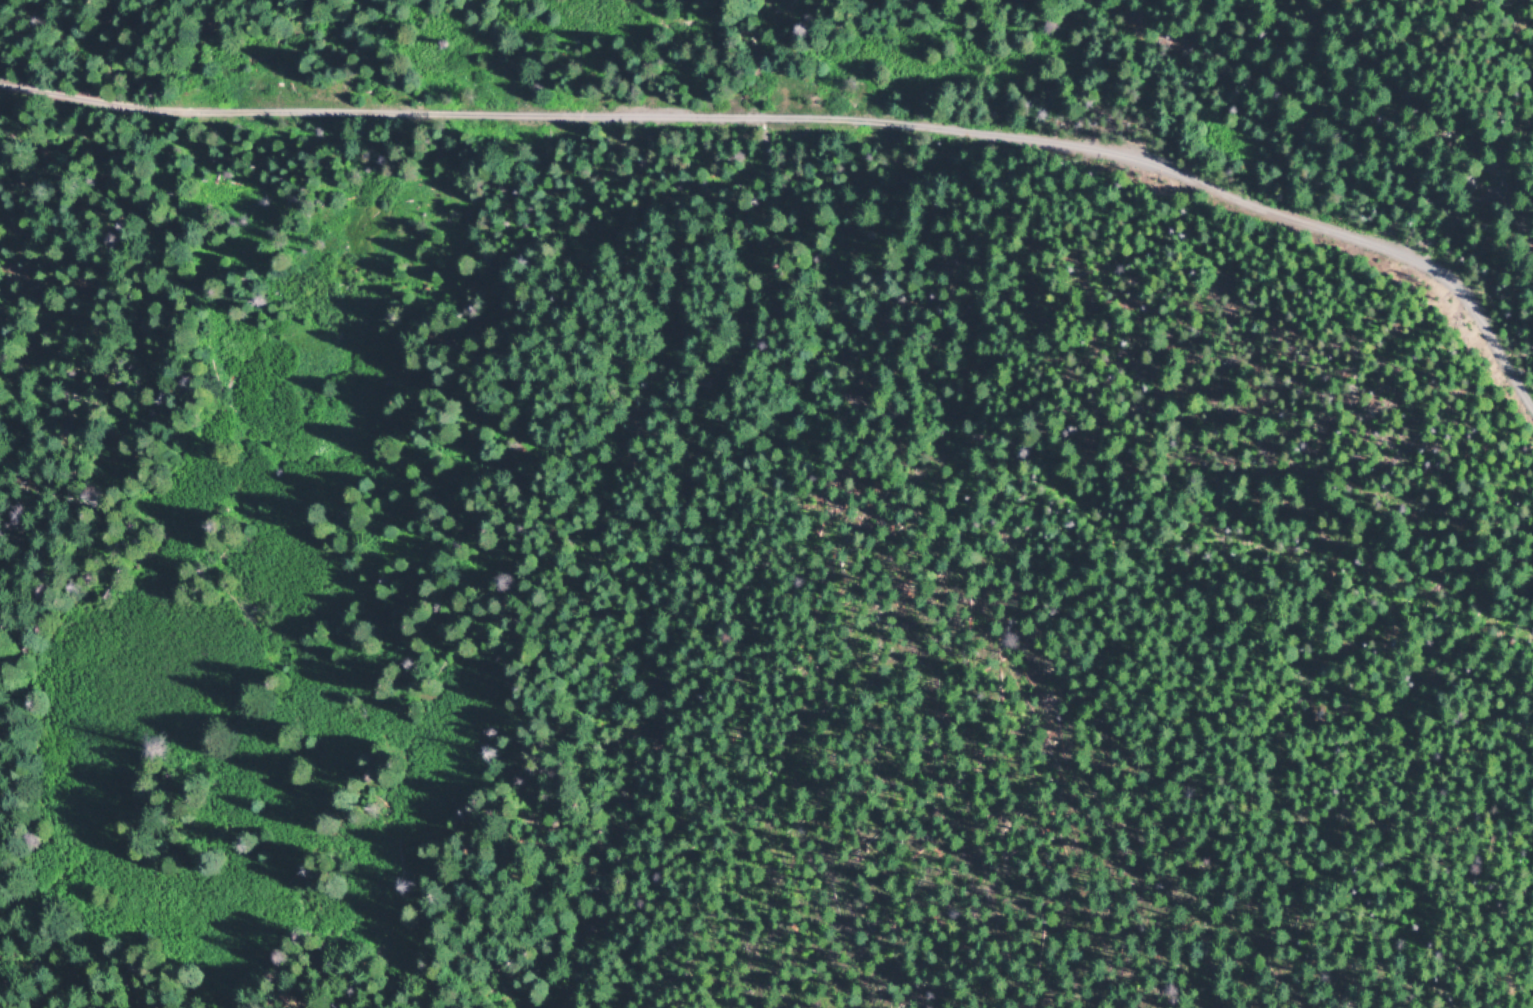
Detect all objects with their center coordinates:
road: (796, 109)

